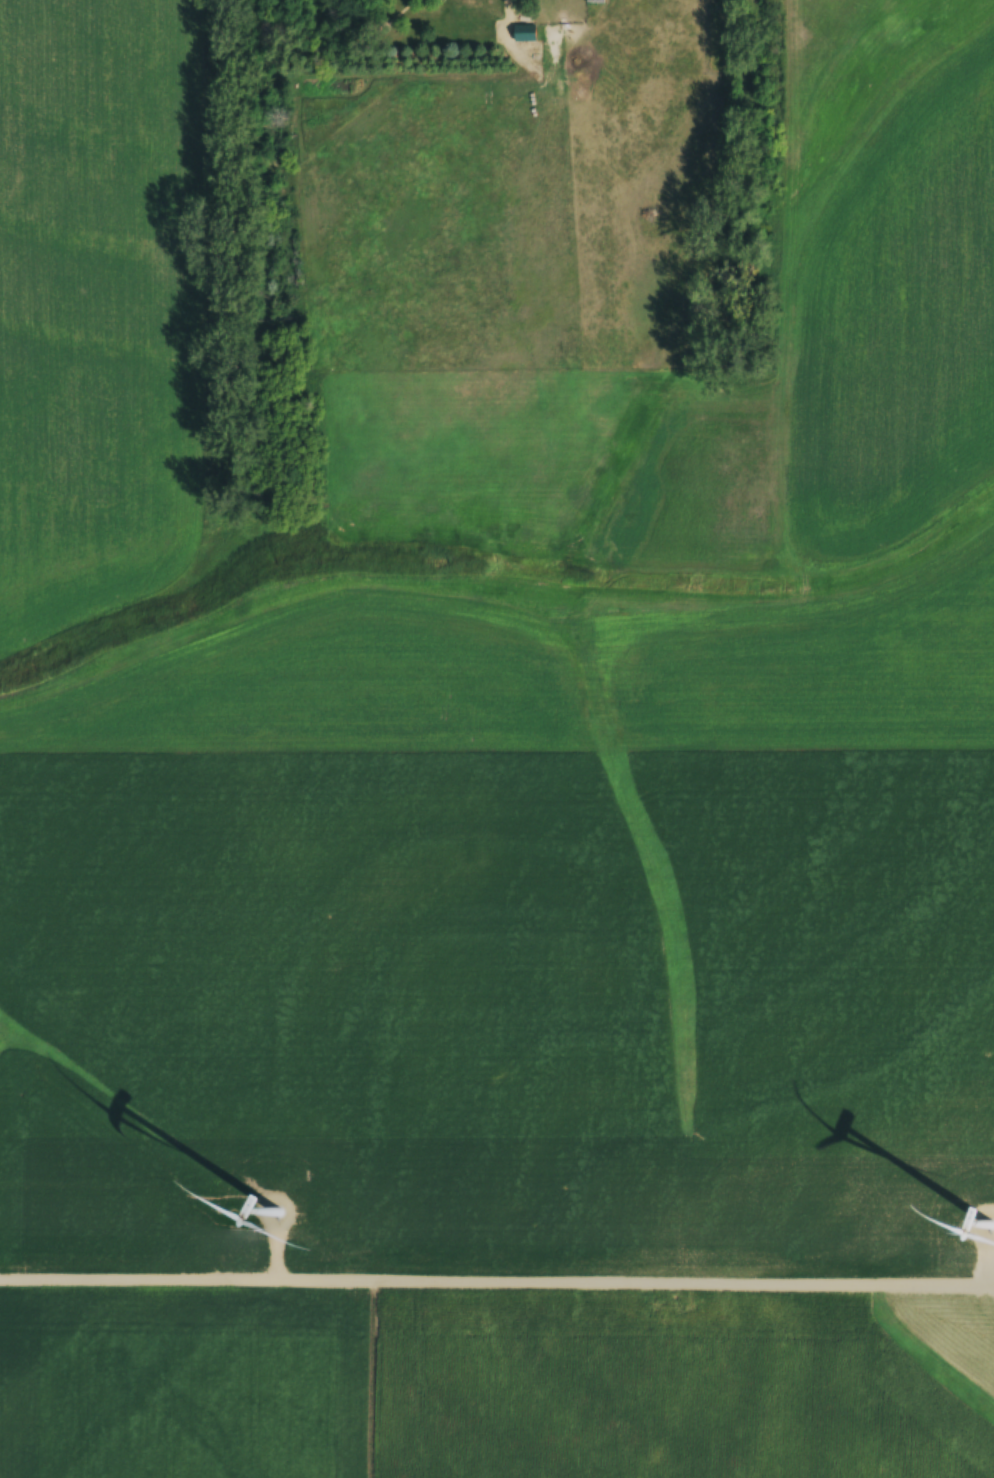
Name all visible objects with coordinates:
building: (593, 2)
building: (524, 34)
wind turbine: (277, 1214)
wind turbine: (985, 1228)

